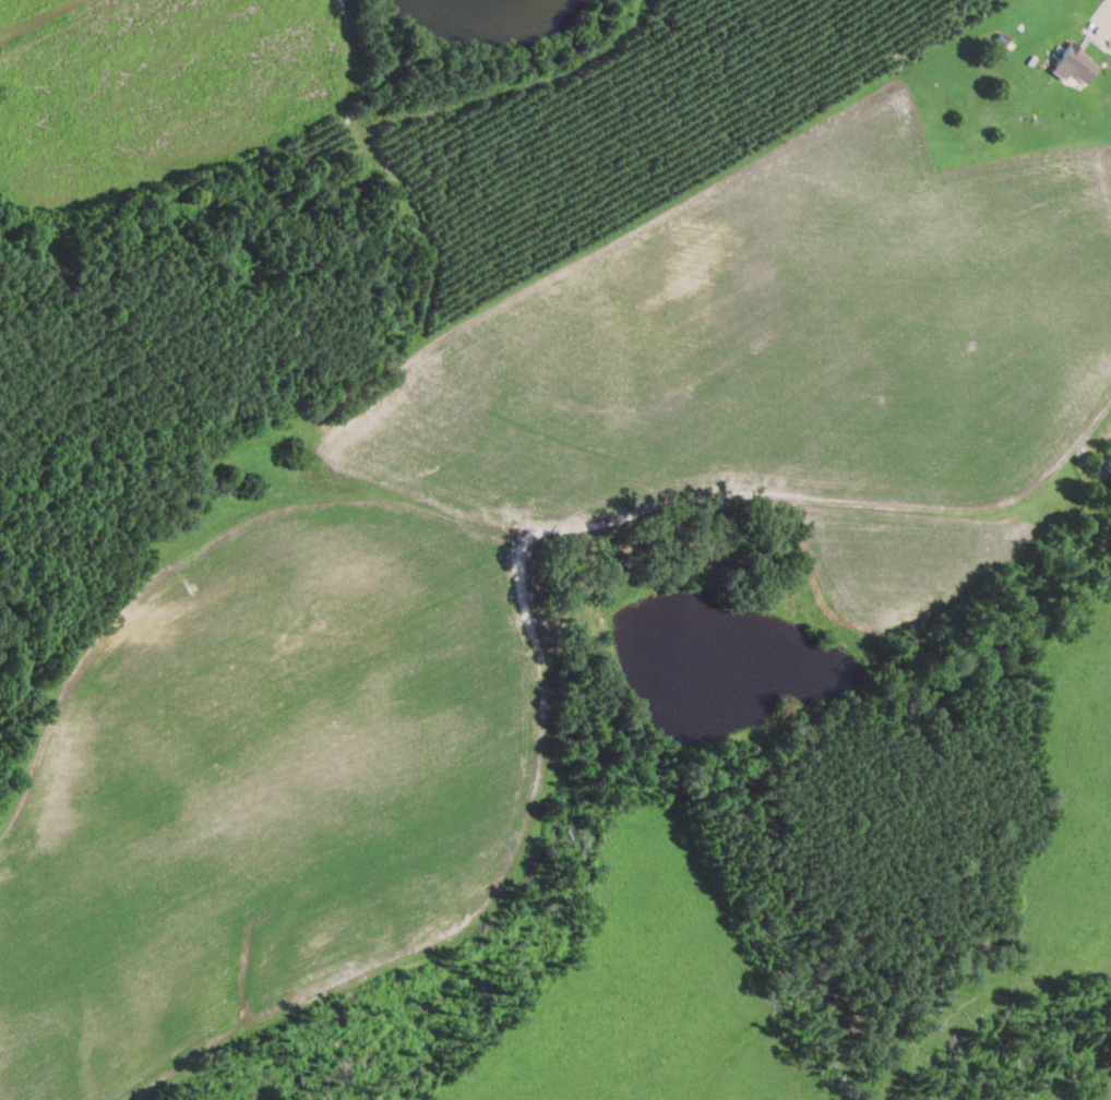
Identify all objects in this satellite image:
road: (1098, 28)
building: (1071, 65)

